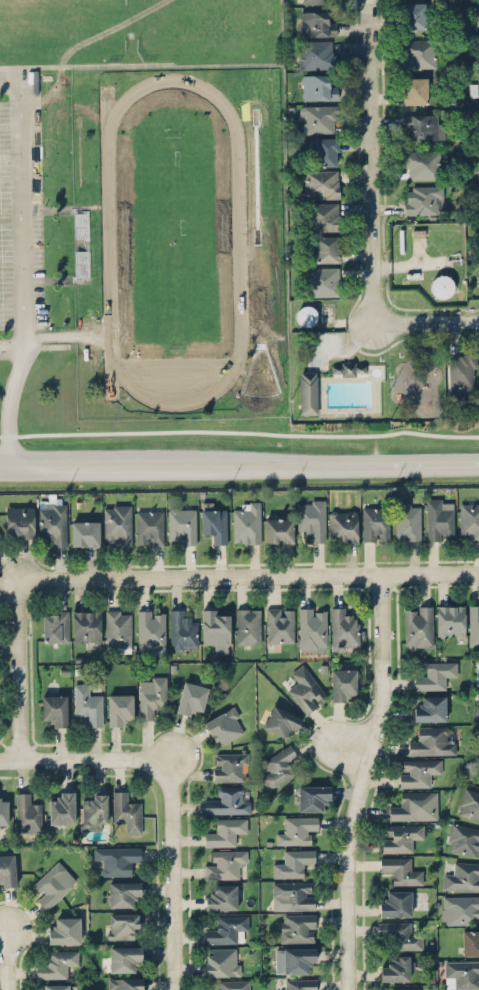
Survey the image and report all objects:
building: (315, 1)
building: (477, 8)
building: (412, 15)
building: (316, 23)
park: (206, 28)
park: (61, 30)
building: (418, 52)
building: (315, 53)
building: (317, 86)
building: (474, 88)
building: (414, 89)
building: (319, 118)
building: (423, 125)
building: (325, 150)
road: (370, 156)
building: (421, 164)
building: (477, 167)
building: (320, 183)
building: (422, 198)
road: (19, 202)
building: (322, 215)
parking lot: (21, 216)
stadium: (179, 240)
park: (174, 243)
building: (326, 248)
building: (322, 280)
building: (442, 285)
building: (305, 314)
road: (427, 321)
road: (10, 347)
building: (348, 367)
building: (461, 370)
park: (366, 376)
building: (307, 392)
road: (9, 403)
road: (196, 460)
road: (436, 460)
building: (311, 517)
building: (438, 518)
building: (469, 518)
building: (19, 521)
building: (53, 521)
building: (246, 522)
building: (374, 522)
building: (407, 522)
building: (117, 524)
building: (214, 524)
building: (182, 525)
building: (343, 525)
building: (149, 526)
building: (278, 528)
building: (84, 532)
road: (246, 574)
building: (450, 619)
building: (280, 624)
building: (473, 624)
building: (55, 625)
building: (86, 625)
building: (248, 625)
building: (418, 625)
building: (312, 627)
building: (215, 628)
building: (343, 628)
building: (117, 629)
building: (151, 630)
building: (182, 630)
road: (15, 670)
building: (434, 674)
building: (342, 684)
building: (305, 688)
building: (151, 695)
building: (191, 697)
building: (87, 703)
building: (429, 707)
building: (54, 708)
building: (120, 709)
building: (281, 721)
building: (224, 725)
building: (432, 740)
road: (350, 755)
road: (89, 761)
building: (230, 765)
building: (278, 765)
building: (418, 771)
road: (366, 780)
building: (311, 796)
building: (227, 800)
building: (469, 804)
building: (410, 805)
building: (61, 808)
building: (3, 810)
building: (94, 811)
building: (127, 811)
building: (27, 812)
building: (296, 829)
building: (225, 831)
building: (401, 836)
building: (463, 838)
building: (118, 859)
building: (293, 862)
building: (223, 863)
building: (7, 869)
building: (400, 869)
road: (180, 875)
building: (460, 875)
building: (53, 884)
building: (123, 893)
building: (293, 894)
building: (221, 896)
building: (395, 902)
building: (459, 908)
building: (123, 925)
building: (297, 927)
building: (226, 928)
building: (64, 929)
building: (400, 935)
building: (470, 942)
building: (124, 957)
building: (293, 958)
road: (7, 959)
building: (221, 961)
building: (56, 963)
building: (397, 967)
building: (461, 973)
building: (124, 983)
building: (231, 984)
building: (298, 984)
building: (56, 986)
building: (404, 988)

